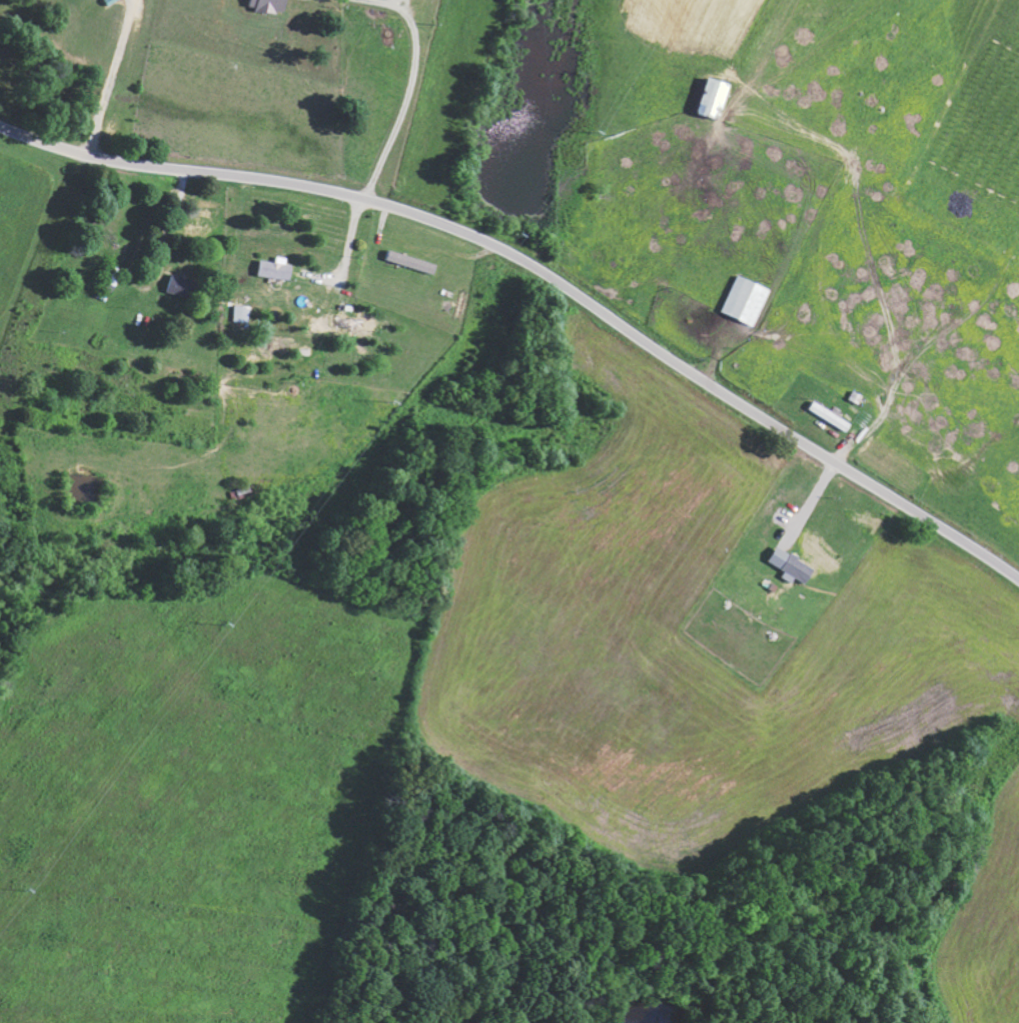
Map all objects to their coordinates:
building: (270, 4)
building: (717, 96)
building: (413, 261)
building: (277, 268)
road: (543, 272)
building: (110, 277)
building: (182, 286)
building: (749, 299)
building: (832, 416)
building: (800, 568)

